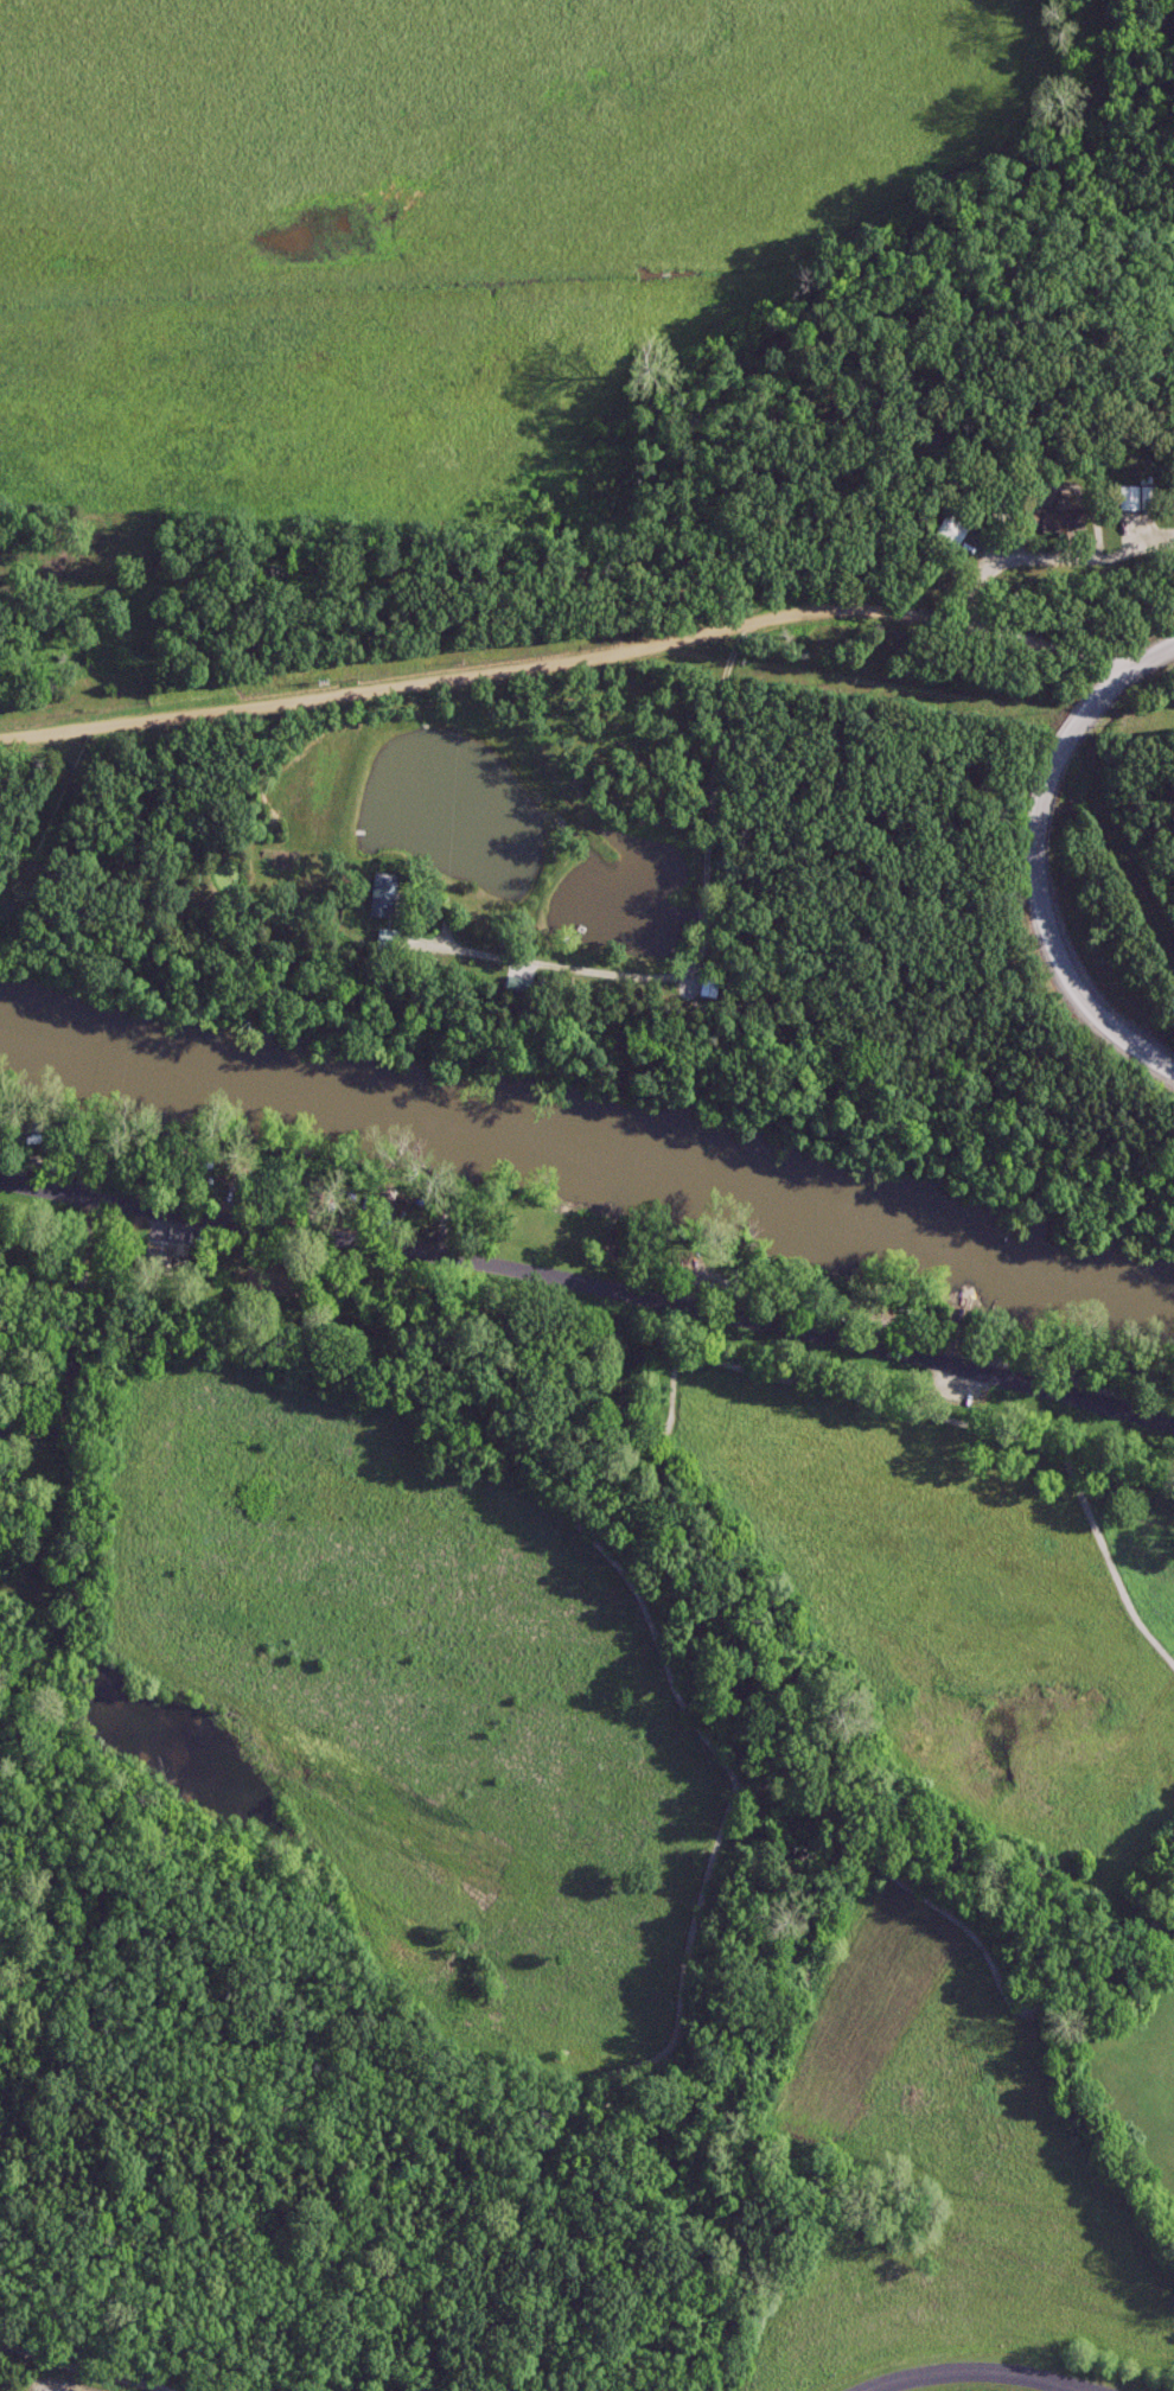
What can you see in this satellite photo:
building: (1128, 500)
building: (1052, 522)
building: (945, 533)
road: (1031, 572)
road: (989, 624)
road: (615, 652)
road: (1048, 879)
building: (374, 904)
road: (728, 958)
building: (700, 989)
road: (591, 1286)
road: (81, 2368)
road: (981, 2372)

